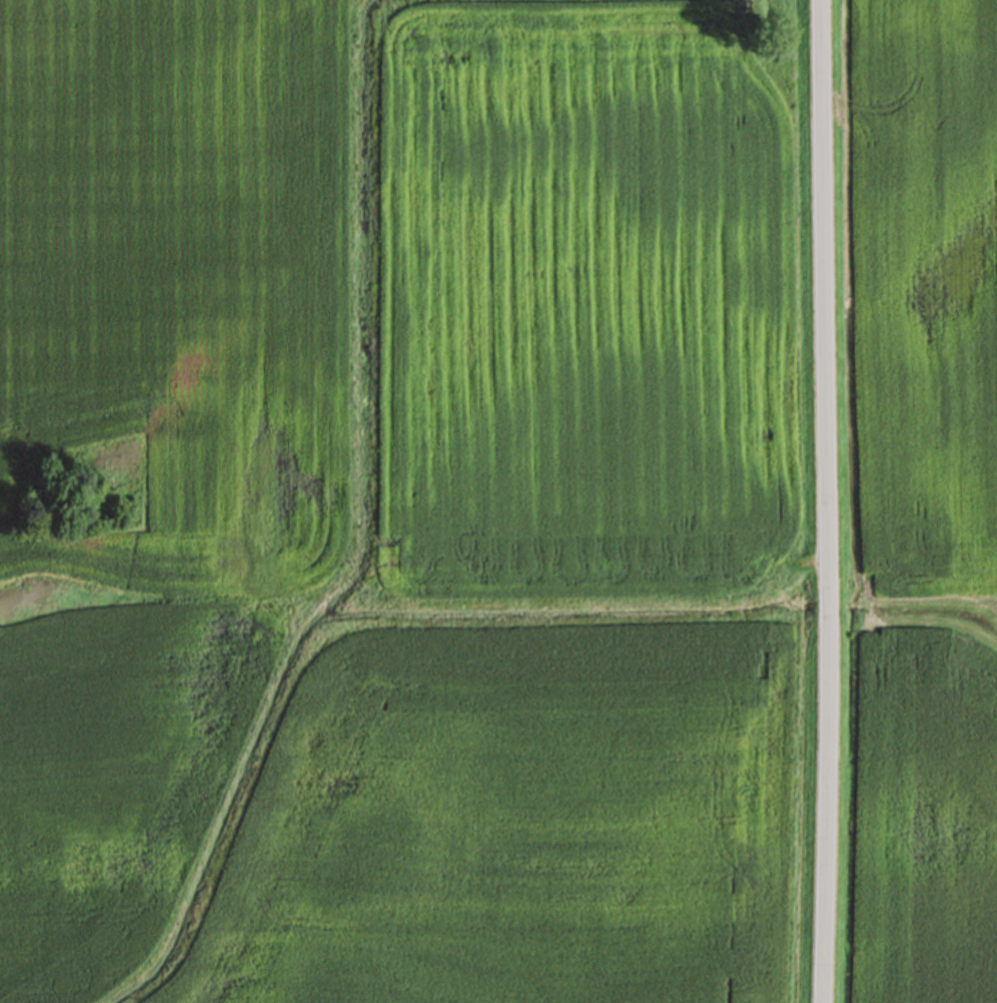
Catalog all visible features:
road: (821, 501)

